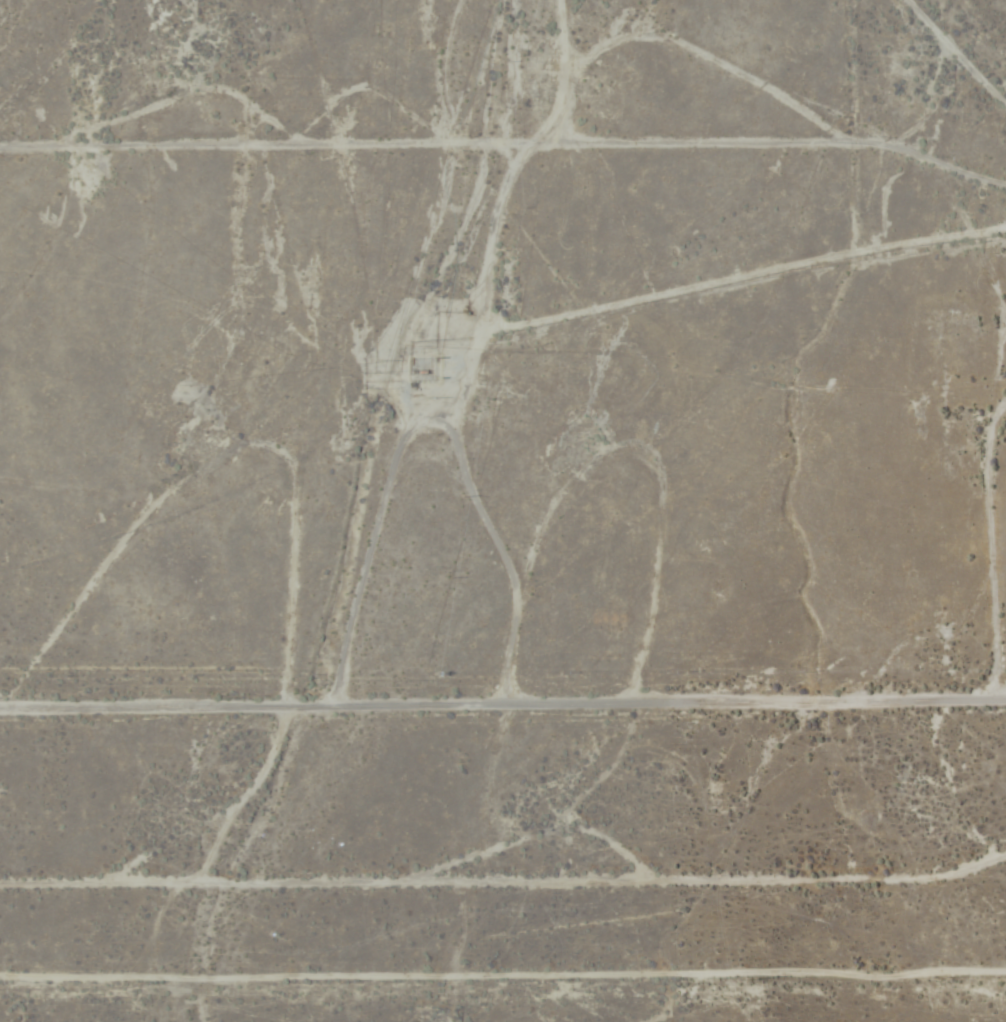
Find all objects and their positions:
road: (503, 734)

